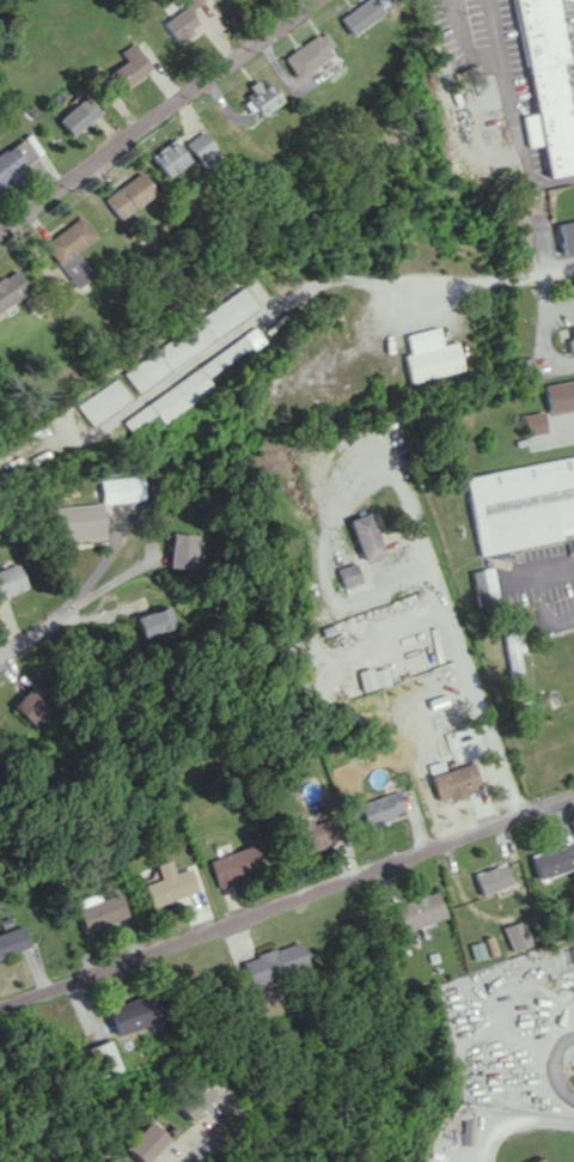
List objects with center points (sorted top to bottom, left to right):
building: (359, 16)
building: (182, 20)
building: (307, 53)
building: (130, 65)
road: (502, 73)
building: (544, 84)
building: (261, 97)
building: (78, 115)
road: (164, 128)
building: (201, 147)
building: (13, 159)
building: (169, 159)
building: (128, 194)
building: (566, 235)
building: (68, 250)
road: (484, 284)
building: (10, 287)
road: (541, 331)
building: (185, 339)
road: (222, 340)
building: (570, 340)
building: (433, 360)
building: (560, 394)
building: (99, 400)
road: (566, 420)
building: (533, 421)
building: (120, 489)
building: (521, 504)
building: (77, 522)
building: (365, 536)
building: (182, 550)
building: (347, 574)
road: (91, 577)
building: (10, 579)
building: (483, 585)
building: (154, 621)
road: (450, 623)
road: (37, 635)
building: (512, 649)
building: (32, 700)
building: (458, 780)
building: (381, 808)
building: (317, 832)
building: (554, 859)
building: (232, 864)
building: (493, 878)
building: (166, 884)
road: (286, 894)
building: (96, 909)
building: (417, 909)
building: (515, 935)
building: (11, 941)
building: (475, 950)
building: (572, 954)
building: (270, 962)
building: (129, 1012)
building: (99, 1058)
road: (551, 1066)
building: (191, 1099)
road: (210, 1142)
building: (143, 1143)
building: (538, 1160)
building: (109, 1161)

